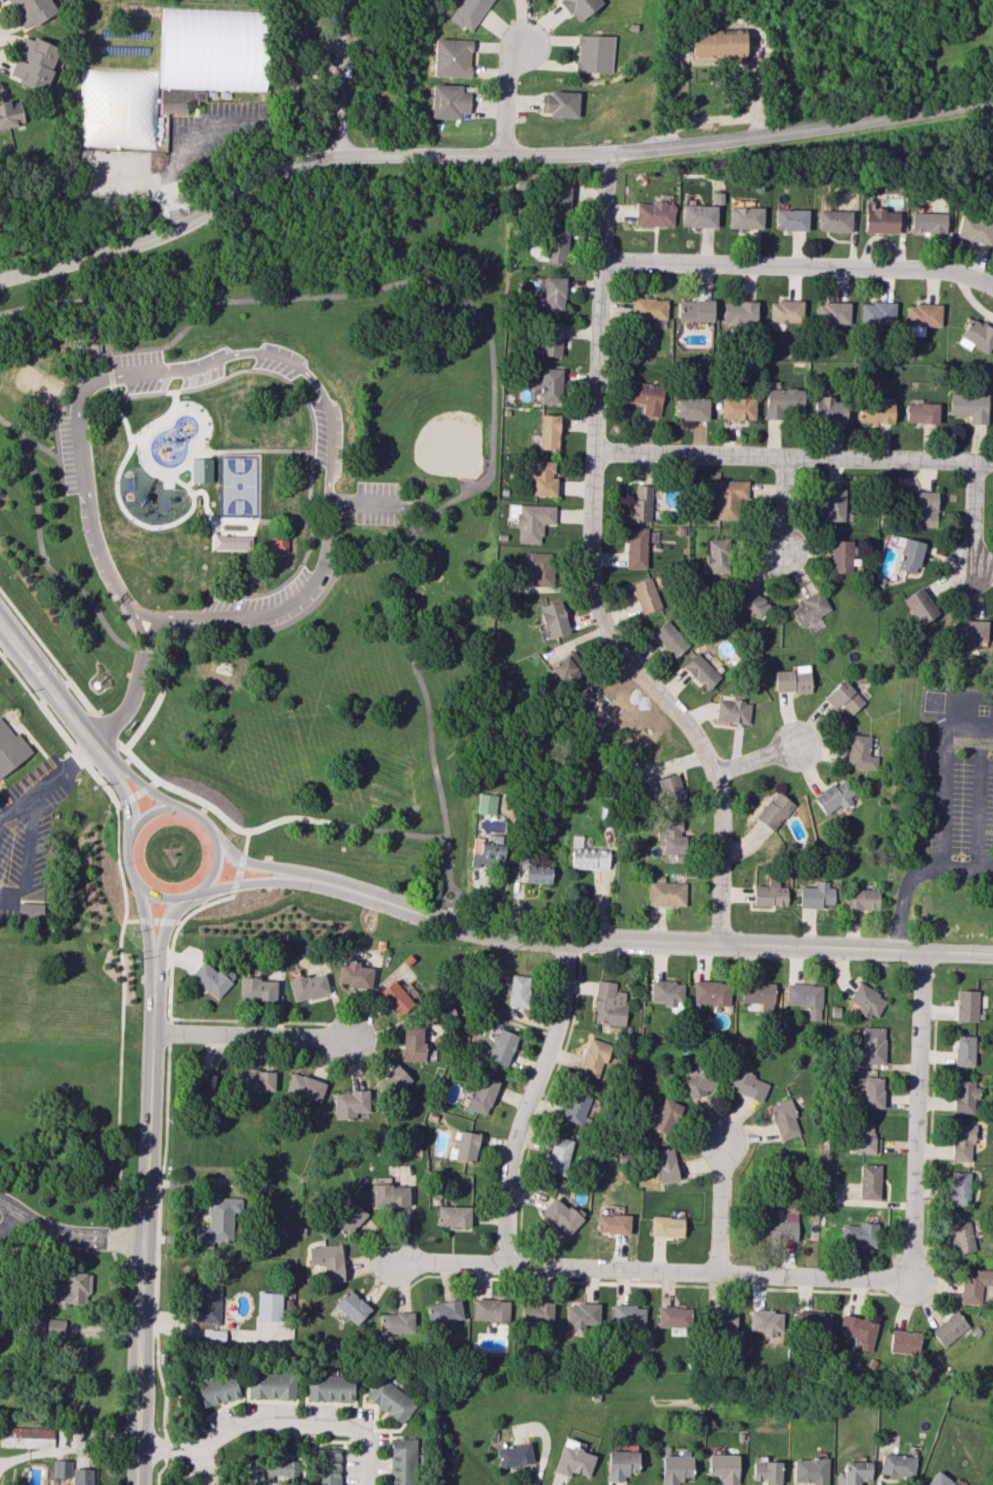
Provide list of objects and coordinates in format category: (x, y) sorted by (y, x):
building: (579, 7)
building: (32, 11)
building: (468, 13)
building: (594, 53)
building: (208, 54)
building: (451, 58)
building: (34, 63)
road: (340, 76)
road: (507, 98)
building: (448, 101)
building: (559, 104)
building: (9, 116)
road: (177, 150)
road: (485, 155)
building: (559, 199)
building: (654, 214)
building: (698, 216)
building: (744, 217)
building: (790, 219)
building: (834, 220)
building: (880, 221)
building: (927, 222)
building: (974, 229)
river: (31, 237)
building: (556, 247)
road: (800, 264)
road: (433, 283)
building: (554, 293)
road: (602, 301)
building: (649, 308)
building: (695, 310)
building: (740, 311)
building: (786, 311)
road: (167, 313)
building: (833, 313)
building: (877, 314)
building: (922, 318)
building: (976, 336)
building: (550, 338)
building: (87, 347)
road: (263, 352)
parking lot: (279, 360)
road: (108, 365)
parking lot: (164, 369)
road: (230, 373)
road: (109, 375)
park: (33, 384)
building: (550, 385)
road: (174, 395)
building: (644, 396)
road: (56, 402)
building: (783, 402)
building: (969, 406)
building: (691, 408)
building: (737, 408)
building: (828, 409)
building: (877, 413)
building: (921, 413)
park: (429, 421)
road: (201, 424)
road: (13, 429)
building: (548, 432)
road: (56, 449)
road: (289, 451)
parking lot: (73, 455)
road: (794, 455)
road: (145, 461)
road: (190, 464)
building: (202, 469)
road: (154, 470)
building: (543, 478)
park: (239, 485)
road: (310, 486)
building: (729, 499)
parking lot: (382, 503)
building: (641, 503)
road: (359, 504)
road: (781, 504)
building: (834, 505)
building: (926, 508)
road: (205, 509)
park: (274, 511)
road: (972, 514)
road: (433, 516)
building: (532, 521)
building: (231, 542)
building: (280, 542)
road: (39, 547)
building: (635, 548)
building: (910, 555)
building: (841, 556)
road: (250, 557)
building: (716, 557)
building: (540, 569)
building: (645, 595)
road: (319, 597)
parking lot: (270, 599)
building: (750, 603)
building: (920, 606)
building: (810, 607)
building: (553, 619)
building: (970, 630)
road: (36, 638)
building: (669, 638)
road: (142, 652)
road: (160, 660)
building: (565, 667)
building: (700, 671)
road: (48, 681)
building: (791, 681)
road: (60, 682)
road: (134, 687)
road: (658, 695)
building: (845, 697)
road: (84, 701)
building: (732, 711)
road: (57, 726)
road: (430, 727)
road: (105, 728)
road: (120, 746)
building: (11, 751)
building: (860, 752)
road: (755, 759)
road: (950, 767)
parking lot: (960, 772)
road: (59, 775)
road: (133, 777)
road: (152, 783)
road: (121, 787)
road: (145, 787)
building: (671, 791)
road: (136, 793)
building: (834, 797)
road: (125, 799)
road: (981, 799)
building: (486, 803)
road: (214, 810)
building: (774, 811)
building: (671, 836)
parking lot: (27, 838)
road: (244, 842)
road: (28, 844)
building: (488, 851)
building: (587, 856)
road: (240, 860)
road: (259, 864)
road: (118, 866)
road: (237, 873)
road: (986, 873)
building: (537, 874)
road: (912, 878)
road: (206, 881)
road: (257, 881)
parking lot: (984, 881)
road: (234, 885)
building: (666, 893)
building: (769, 893)
road: (441, 895)
building: (815, 895)
building: (860, 899)
road: (206, 904)
building: (30, 910)
road: (143, 914)
road: (144, 920)
road: (154, 920)
road: (166, 921)
road: (166, 922)
road: (177, 922)
road: (651, 940)
building: (353, 974)
building: (213, 978)
building: (308, 986)
building: (257, 989)
building: (519, 990)
building: (666, 991)
building: (710, 992)
building: (395, 994)
building: (756, 994)
building: (805, 998)
building: (866, 1000)
building: (609, 1004)
building: (966, 1005)
road: (200, 1018)
road: (248, 1034)
building: (412, 1044)
building: (873, 1045)
building: (501, 1047)
building: (964, 1050)
building: (593, 1057)
road: (121, 1068)
building: (256, 1080)
building: (393, 1081)
building: (699, 1083)
building: (203, 1084)
building: (747, 1085)
building: (305, 1087)
building: (872, 1092)
building: (481, 1094)
building: (963, 1096)
road: (526, 1099)
building: (350, 1104)
building: (575, 1107)
building: (665, 1116)
road: (914, 1116)
building: (784, 1119)
building: (865, 1139)
building: (961, 1142)
building: (464, 1147)
building: (557, 1155)
building: (664, 1165)
building: (869, 1181)
building: (959, 1188)
building: (390, 1196)
road: (719, 1208)
building: (562, 1215)
building: (453, 1216)
building: (347, 1217)
road: (9, 1219)
building: (217, 1221)
building: (612, 1224)
road: (146, 1225)
building: (666, 1226)
building: (775, 1226)
road: (68, 1233)
building: (858, 1234)
building: (960, 1237)
building: (328, 1260)
road: (446, 1262)
road: (706, 1271)
building: (975, 1284)
building: (73, 1290)
building: (208, 1306)
building: (268, 1306)
building: (352, 1307)
building: (490, 1310)
building: (444, 1311)
building: (536, 1312)
building: (582, 1316)
building: (673, 1316)
building: (627, 1317)
building: (722, 1320)
building: (765, 1321)
building: (396, 1322)
building: (813, 1323)
building: (52, 1325)
building: (949, 1328)
building: (857, 1330)
building: (904, 1342)
building: (79, 1355)
building: (271, 1385)
building: (329, 1387)
building: (215, 1390)
building: (389, 1399)
road: (283, 1427)
building: (26, 1436)
road: (168, 1450)
building: (513, 1455)
building: (573, 1459)
building: (402, 1461)
building: (621, 1464)
building: (897, 1465)
building: (326, 1466)
building: (723, 1467)
building: (61, 1468)
building: (675, 1469)
building: (810, 1470)
road: (160, 1471)
building: (270, 1471)
building: (766, 1472)
building: (853, 1473)
building: (82, 1476)
building: (939, 1480)

